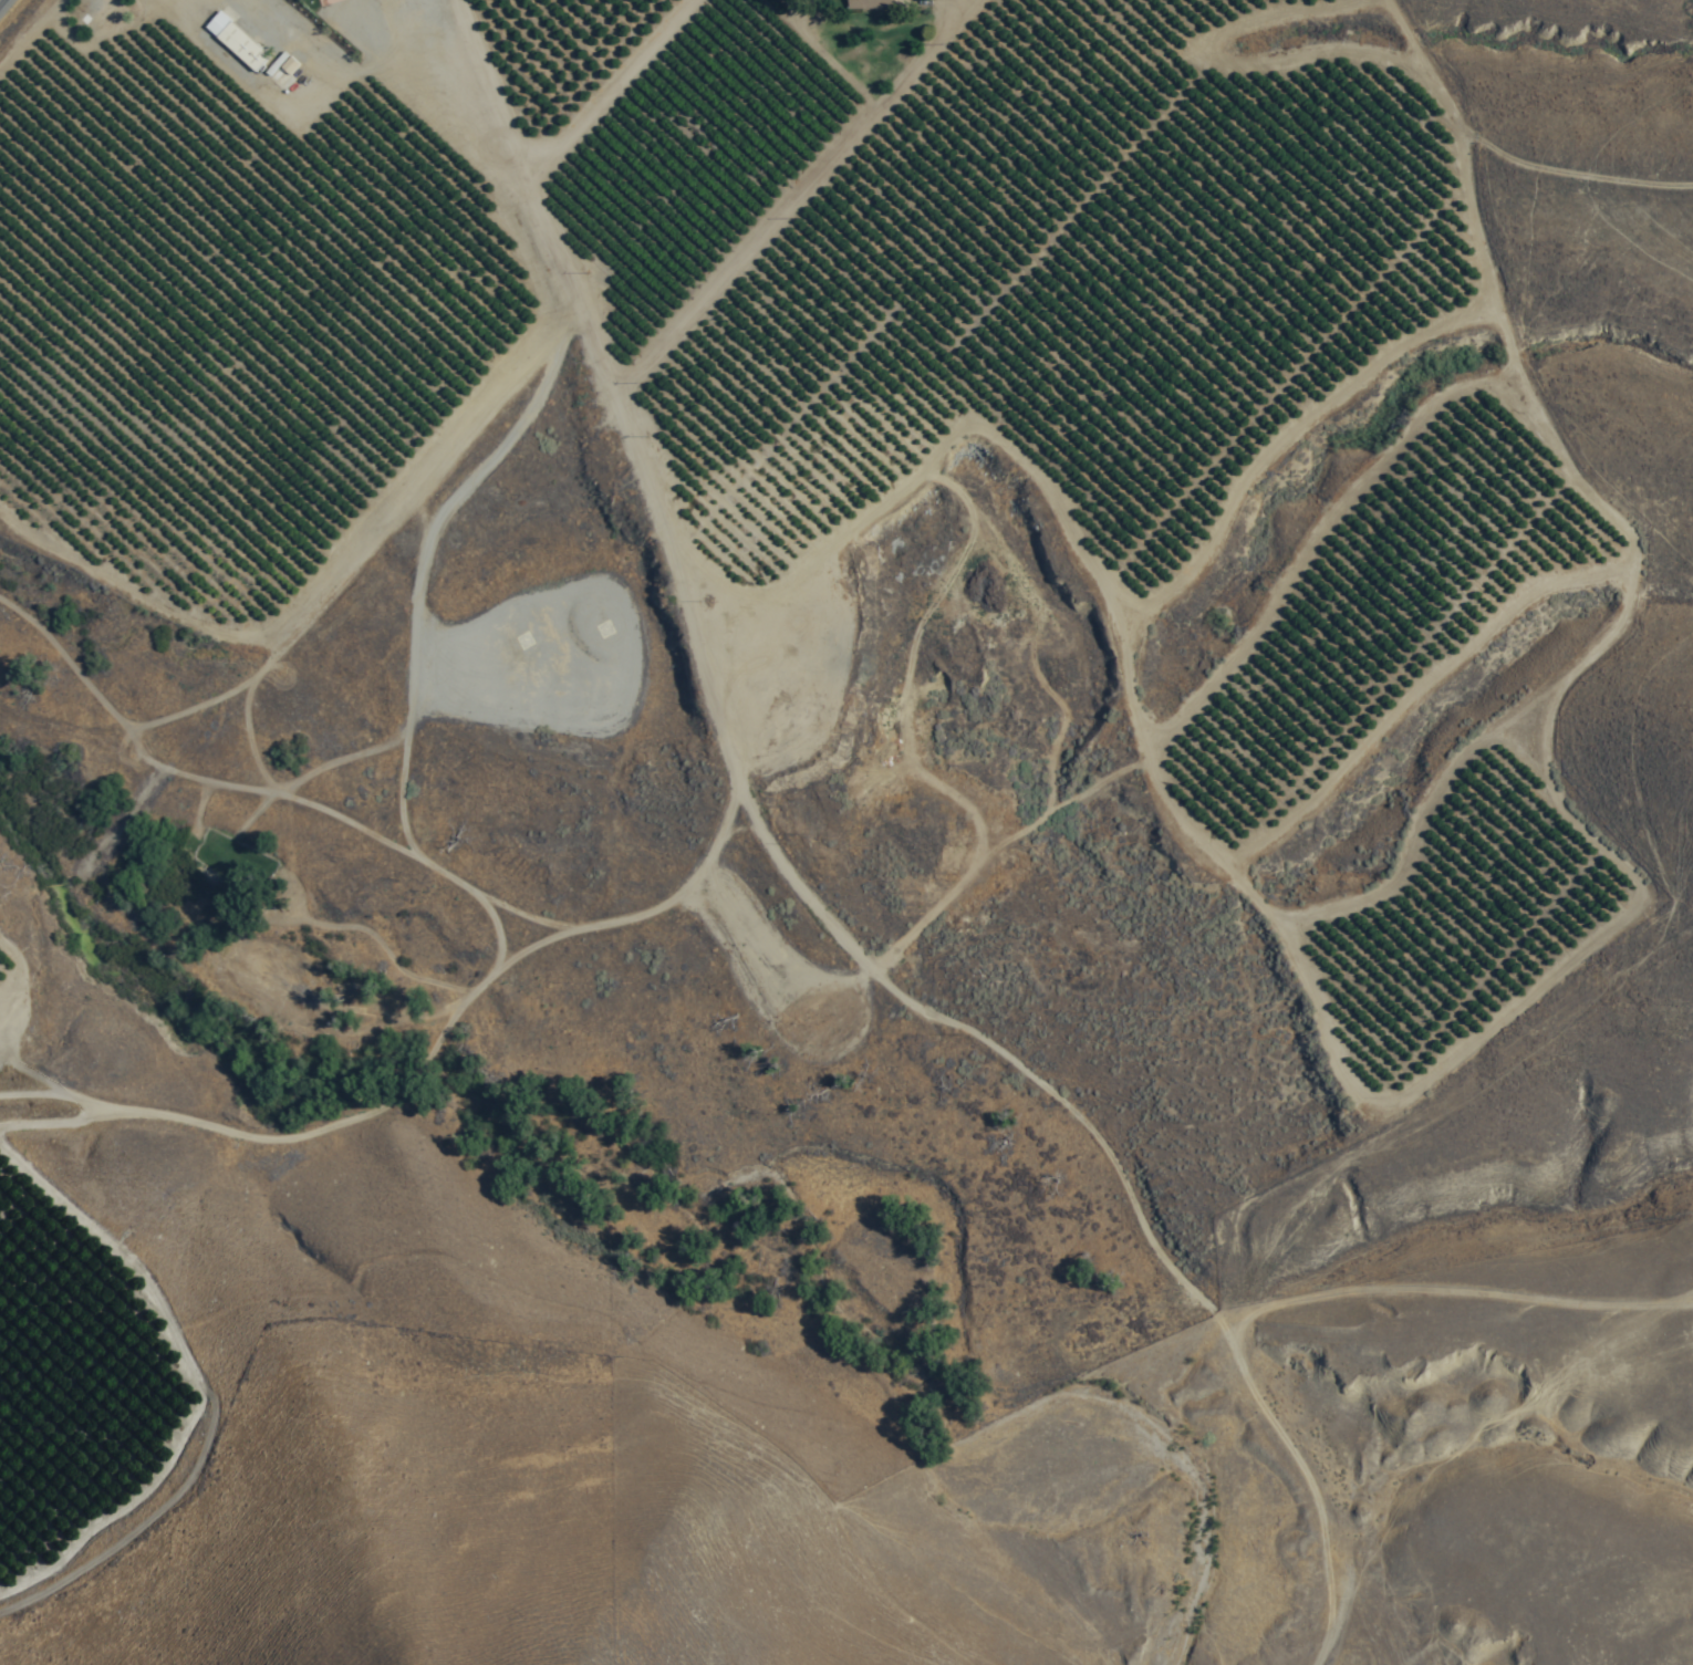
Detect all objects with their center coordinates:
road: (3, 4)
building: (872, 4)
building: (221, 22)
building: (245, 45)
building: (285, 70)
road: (612, 93)
road: (804, 903)
road: (419, 1072)
road: (1448, 1294)

